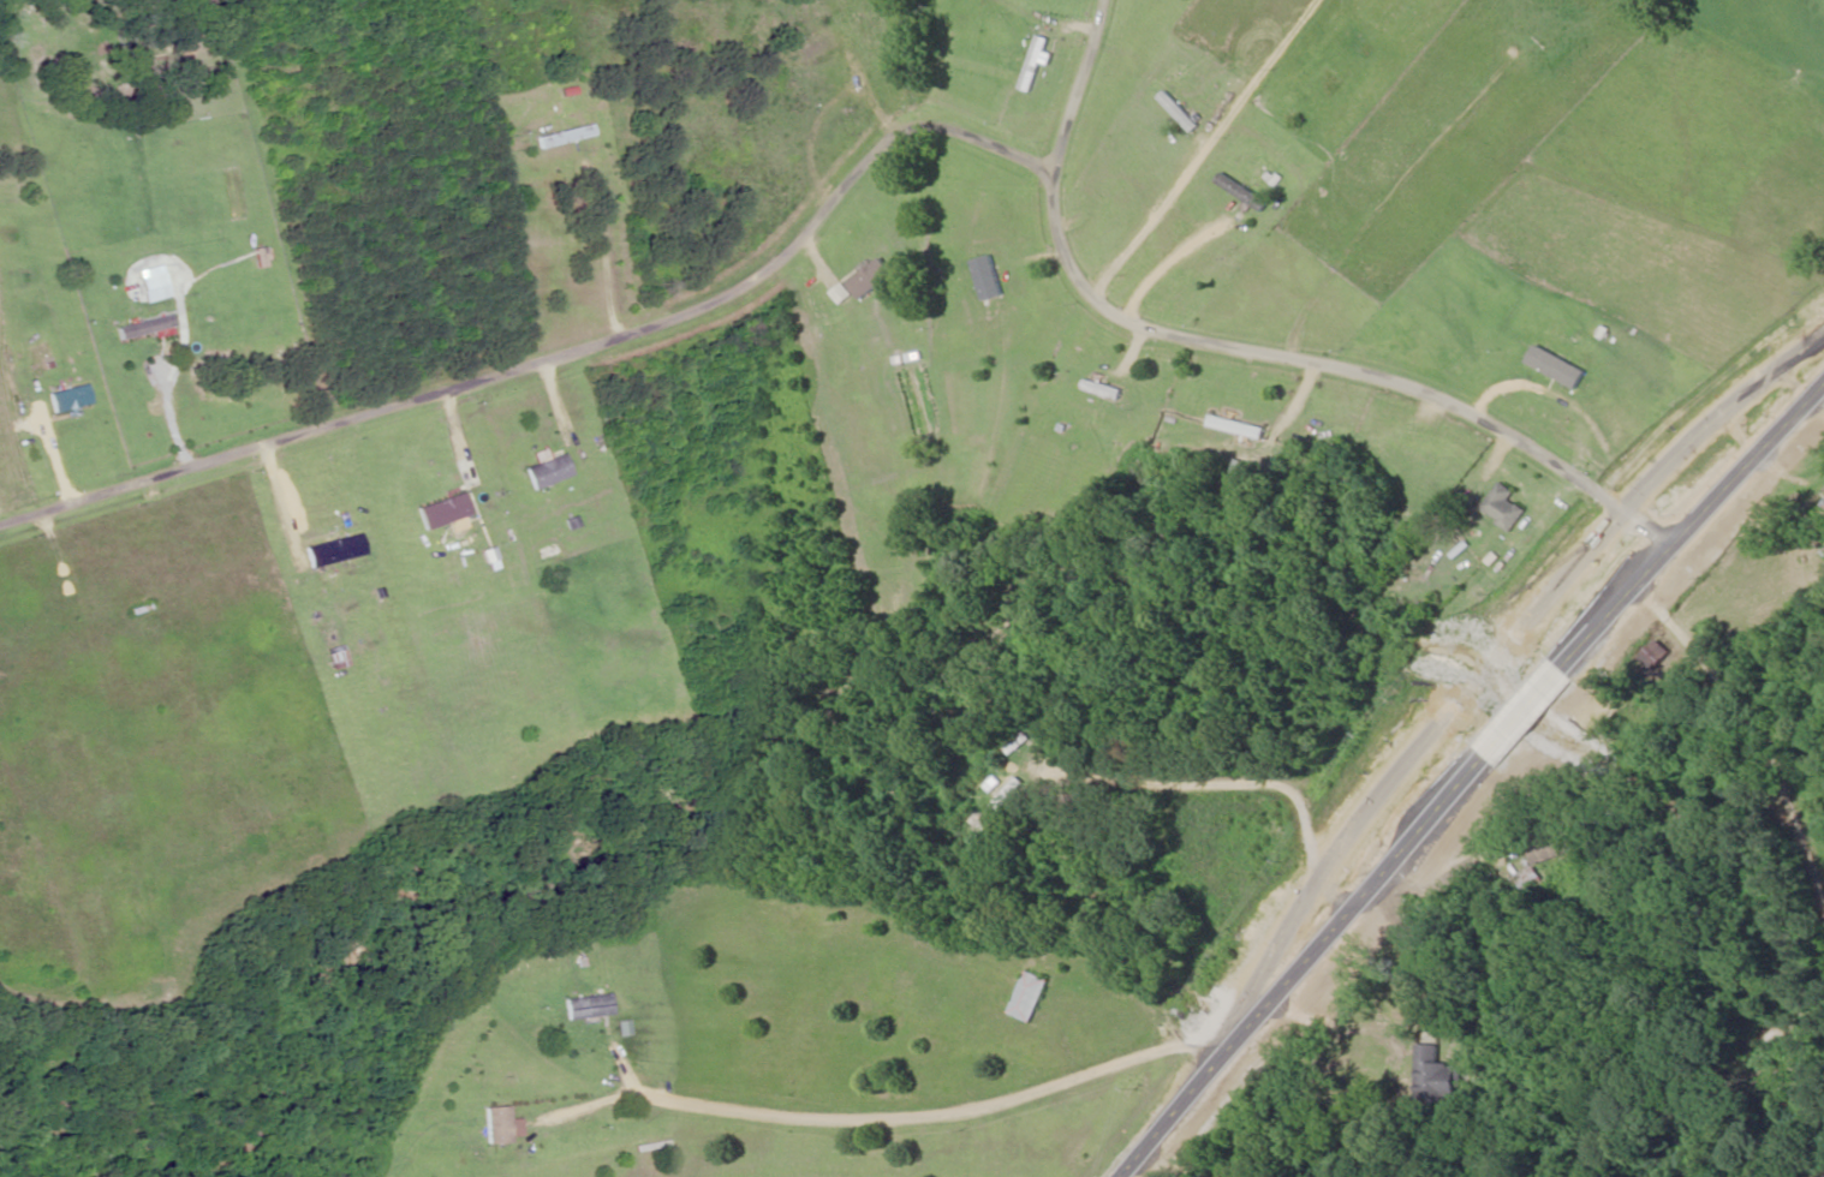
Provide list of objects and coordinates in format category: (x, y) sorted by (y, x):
building: (1567, 47)
building: (818, 48)
building: (1037, 65)
building: (566, 137)
building: (990, 279)
building: (870, 282)
building: (150, 329)
building: (1558, 368)
building: (1105, 390)
building: (71, 399)
building: (1241, 428)
building: (549, 472)
building: (1507, 508)
building: (445, 512)
building: (1823, 515)
road: (1743, 705)
road: (1468, 777)
building: (1009, 795)
building: (1531, 880)
building: (1032, 997)
building: (1444, 1079)
road: (1187, 1164)

